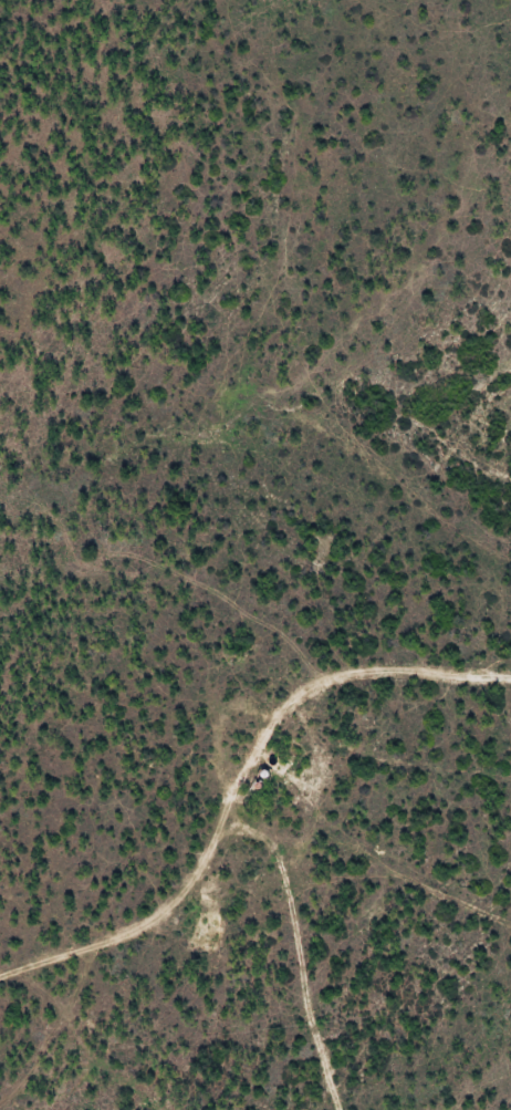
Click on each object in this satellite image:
road: (300, 706)
road: (248, 898)

